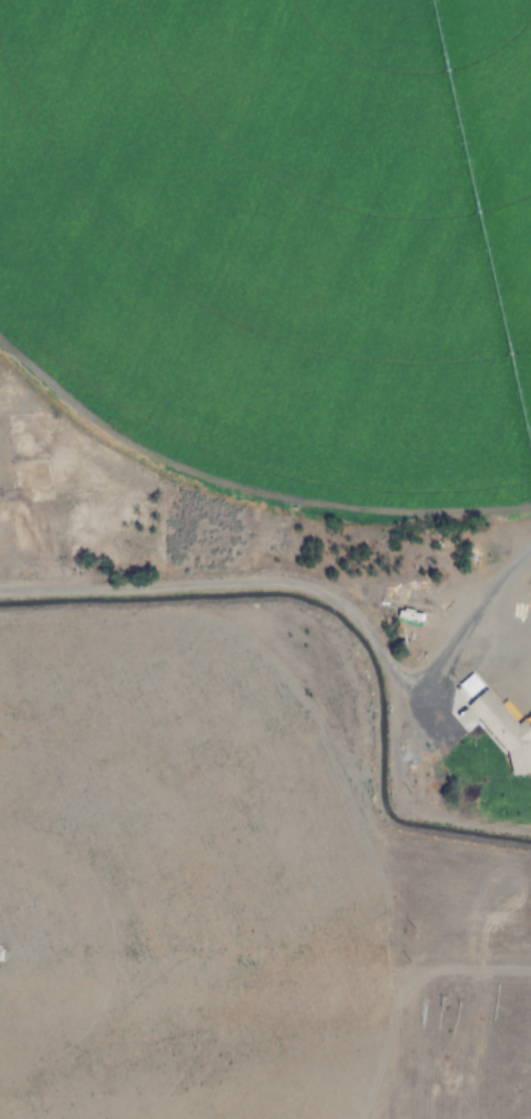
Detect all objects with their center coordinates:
road: (229, 586)
building: (499, 725)

